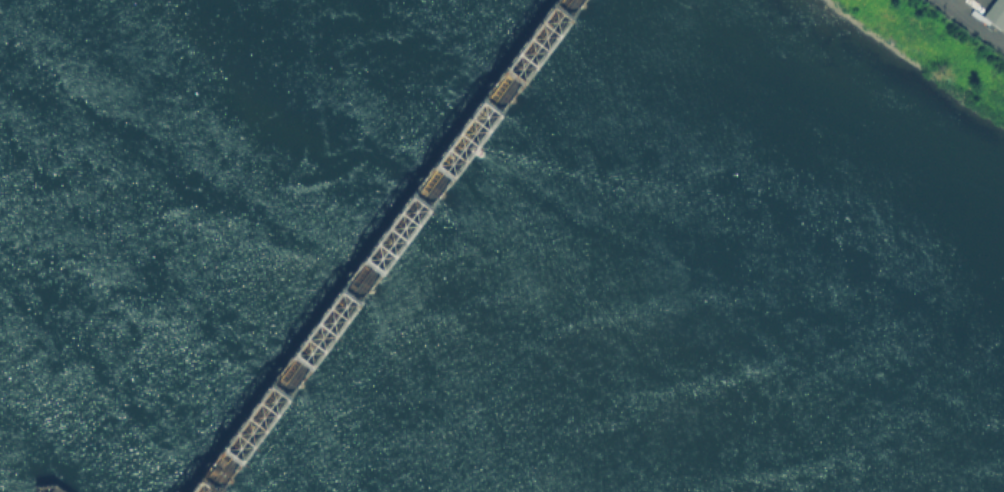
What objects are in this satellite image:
building: (995, 12)
road: (972, 21)
railway: (376, 246)
railway: (387, 246)
river: (338, 296)

